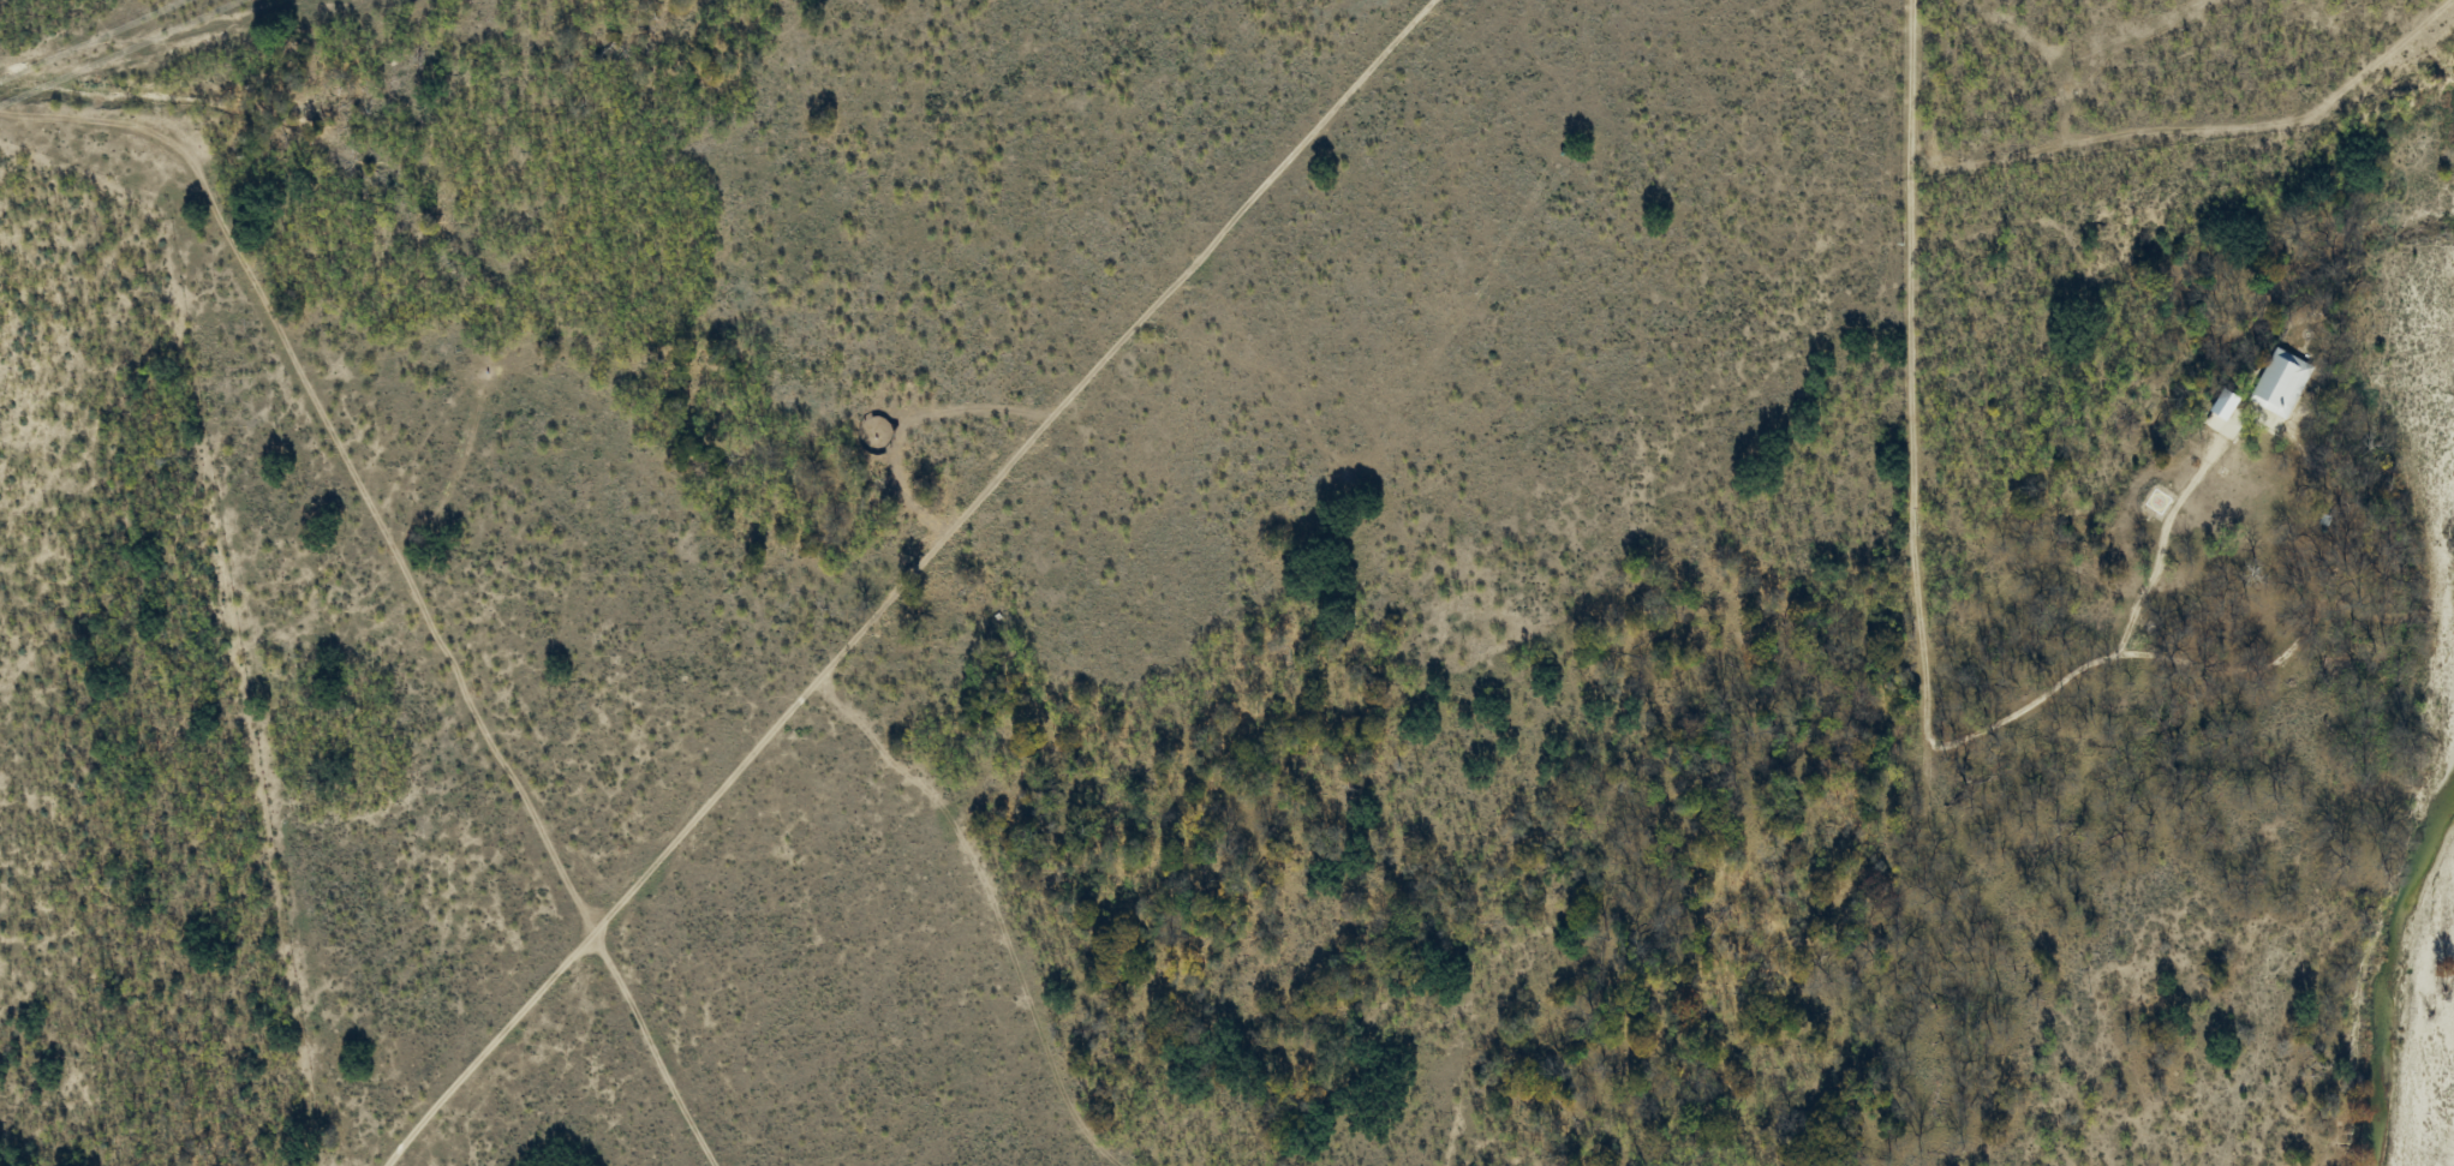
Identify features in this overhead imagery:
building: (2280, 383)
building: (2220, 402)
river: (2399, 959)

